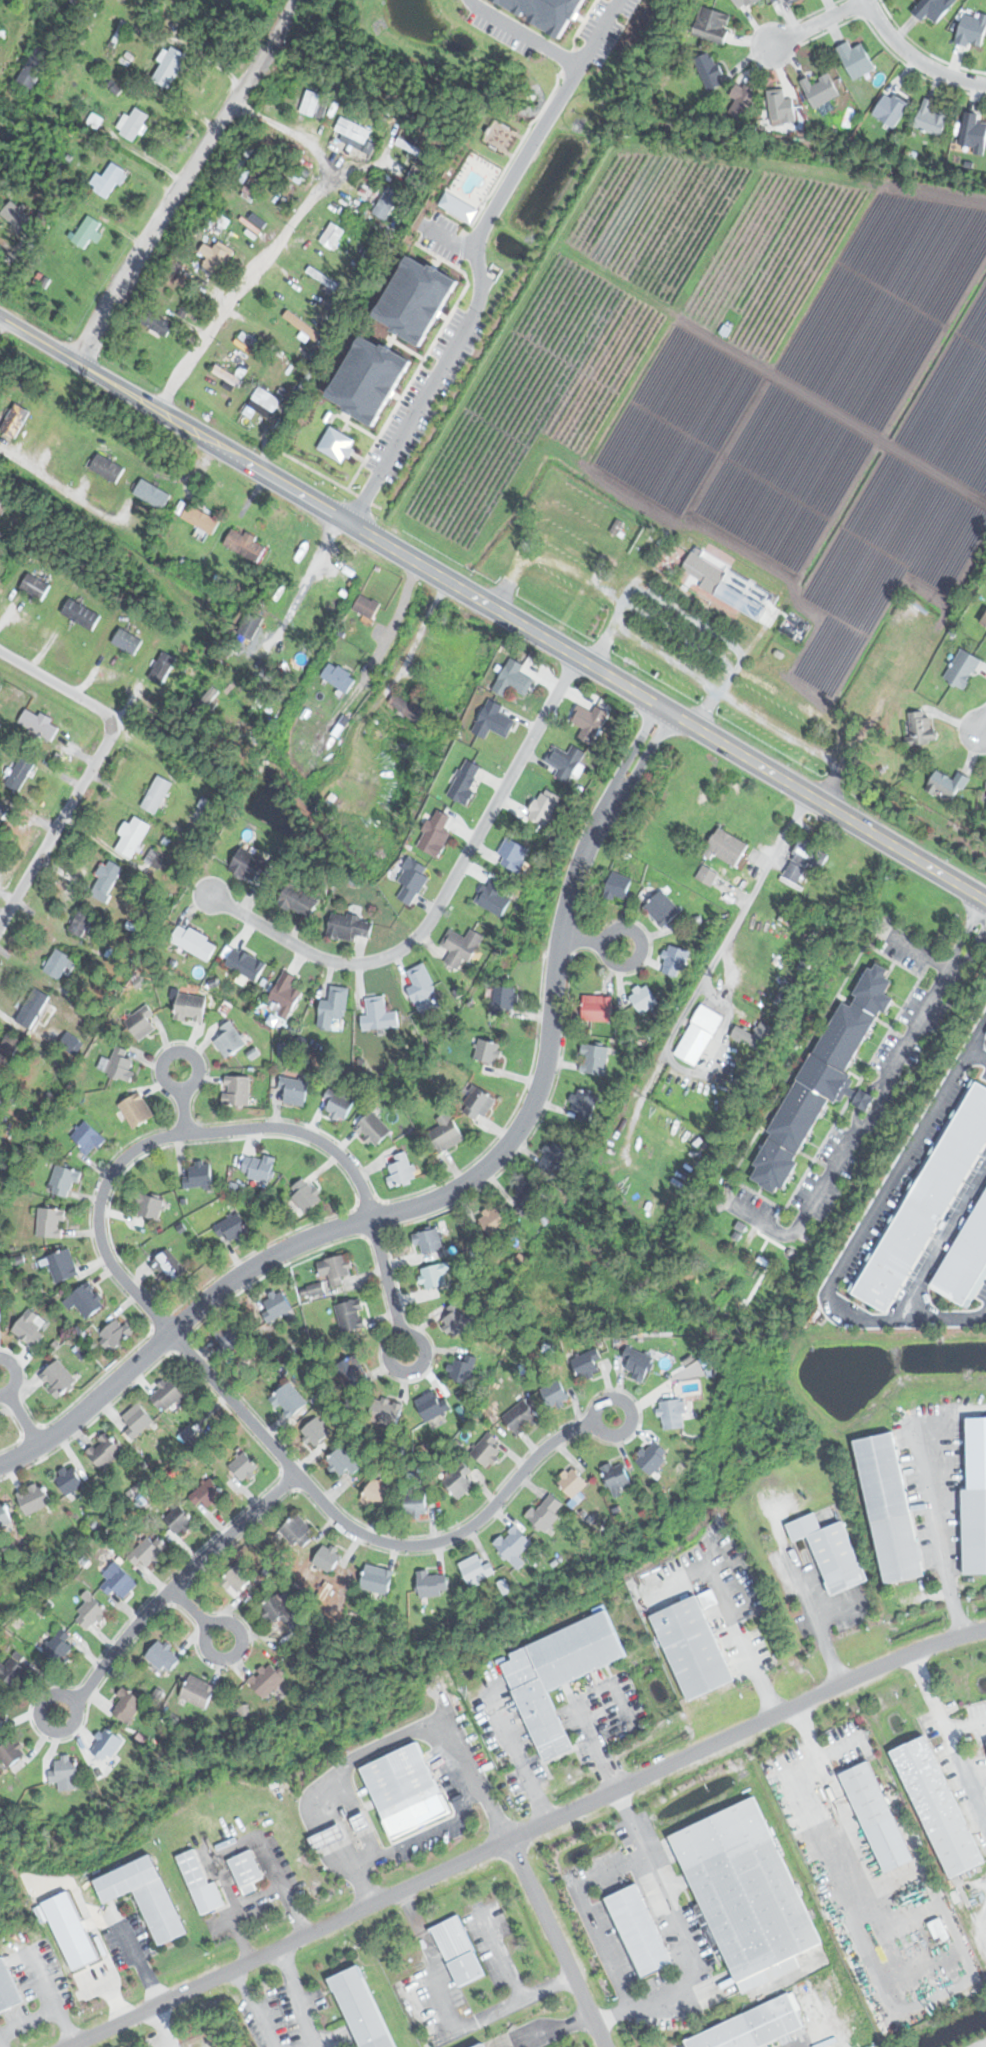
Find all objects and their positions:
building: (777, 1)
building: (790, 1)
parking lot: (628, 3)
building: (743, 3)
building: (933, 9)
building: (536, 12)
building: (588, 22)
parking lot: (601, 22)
road: (820, 22)
building: (712, 25)
building: (972, 30)
road: (517, 32)
building: (2, 33)
parking lot: (496, 33)
road: (14, 43)
road: (916, 57)
building: (856, 59)
building: (33, 67)
building: (171, 68)
building: (710, 71)
building: (820, 90)
building: (742, 102)
building: (310, 103)
building: (781, 108)
building: (890, 109)
building: (931, 119)
building: (134, 124)
building: (353, 130)
building: (973, 134)
building: (472, 173)
building: (107, 180)
road: (183, 180)
building: (255, 183)
building: (386, 204)
building: (20, 220)
building: (87, 233)
building: (332, 236)
parking lot: (443, 236)
road: (273, 243)
road: (470, 257)
building: (218, 260)
building: (322, 279)
building: (157, 324)
building: (304, 329)
building: (370, 350)
building: (227, 376)
parking lot: (417, 397)
building: (266, 400)
building: (15, 422)
building: (107, 467)
building: (152, 493)
building: (2, 497)
building: (200, 518)
building: (245, 544)
building: (559, 560)
building: (718, 573)
building: (35, 586)
road: (505, 588)
road: (492, 609)
building: (365, 611)
parking lot: (655, 611)
building: (81, 613)
road: (689, 616)
building: (984, 619)
building: (251, 625)
road: (420, 626)
building: (127, 641)
building: (162, 667)
building: (962, 668)
building: (338, 677)
building: (513, 679)
road: (57, 691)
building: (407, 706)
road: (739, 706)
building: (493, 720)
building: (589, 722)
building: (37, 723)
building: (920, 728)
road: (984, 732)
building: (565, 762)
building: (20, 774)
building: (465, 781)
building: (948, 785)
building: (157, 794)
building: (544, 807)
building: (2, 810)
road: (57, 823)
building: (435, 833)
building: (132, 836)
building: (728, 846)
building: (513, 854)
building: (805, 859)
building: (250, 866)
building: (707, 875)
building: (105, 880)
building: (411, 880)
building: (618, 886)
building: (493, 897)
building: (298, 901)
road: (444, 902)
building: (662, 908)
building: (82, 922)
building: (349, 927)
road: (591, 940)
building: (194, 942)
building: (462, 948)
building: (674, 960)
building: (59, 964)
building: (244, 964)
building: (421, 987)
building: (286, 993)
building: (644, 998)
building: (504, 1000)
building: (189, 1007)
building: (597, 1008)
building: (34, 1009)
building: (334, 1010)
building: (378, 1015)
building: (141, 1023)
building: (699, 1035)
road: (977, 1035)
building: (754, 1036)
building: (229, 1039)
building: (70, 1043)
building: (9, 1048)
building: (487, 1051)
building: (594, 1059)
building: (121, 1065)
building: (811, 1077)
road: (839, 1079)
building: (237, 1090)
building: (293, 1091)
parking lot: (851, 1091)
road: (180, 1102)
building: (477, 1103)
building: (338, 1104)
building: (583, 1104)
building: (136, 1110)
building: (373, 1129)
building: (446, 1133)
road: (164, 1137)
building: (87, 1138)
building: (553, 1158)
building: (259, 1167)
building: (400, 1170)
building: (199, 1174)
building: (64, 1181)
road: (454, 1189)
building: (305, 1195)
building: (527, 1197)
building: (928, 1203)
building: (151, 1207)
parking lot: (923, 1212)
building: (492, 1219)
building: (50, 1222)
building: (231, 1228)
road: (861, 1233)
building: (428, 1241)
building: (967, 1260)
building: (63, 1265)
building: (168, 1266)
building: (336, 1272)
building: (434, 1275)
road: (386, 1285)
building: (86, 1300)
building: (275, 1307)
building: (349, 1315)
building: (457, 1319)
building: (30, 1328)
building: (115, 1334)
building: (229, 1339)
building: (586, 1363)
building: (638, 1363)
building: (462, 1368)
building: (352, 1375)
building: (58, 1379)
building: (554, 1393)
building: (168, 1396)
building: (291, 1401)
building: (432, 1406)
building: (672, 1410)
building: (388, 1412)
road: (19, 1413)
building: (522, 1419)
building: (137, 1421)
building: (316, 1432)
building: (105, 1451)
building: (487, 1451)
building: (652, 1458)
building: (342, 1463)
building: (244, 1467)
building: (616, 1476)
building: (68, 1479)
building: (458, 1483)
building: (572, 1483)
building: (209, 1494)
building: (376, 1495)
building: (33, 1498)
building: (416, 1504)
building: (886, 1507)
building: (547, 1512)
building: (4, 1514)
building: (178, 1520)
building: (972, 1530)
building: (298, 1533)
road: (368, 1538)
road: (938, 1538)
building: (513, 1546)
building: (833, 1550)
building: (148, 1551)
building: (329, 1558)
building: (475, 1569)
building: (239, 1579)
building: (378, 1580)
building: (118, 1582)
building: (433, 1584)
road: (169, 1588)
building: (279, 1607)
building: (90, 1611)
road: (196, 1613)
road: (814, 1622)
building: (694, 1646)
building: (59, 1647)
building: (163, 1657)
building: (12, 1671)
building: (559, 1675)
building: (266, 1680)
building: (198, 1692)
building: (128, 1707)
building: (1, 1714)
road: (947, 1734)
road: (462, 1743)
building: (106, 1745)
building: (11, 1751)
parking lot: (961, 1763)
building: (66, 1772)
gas station: (402, 1790)
building: (405, 1791)
building: (941, 1806)
building: (878, 1817)
road: (525, 1833)
building: (329, 1837)
building: (193, 1871)
building: (246, 1871)
road: (288, 1893)
building: (747, 1894)
building: (145, 1897)
building: (72, 1929)
building: (640, 1931)
road: (555, 1944)
building: (458, 1952)
road: (143, 1966)
building: (8, 1988)
building: (365, 2009)
building: (754, 2026)
road: (554, 2028)
building: (484, 2045)

